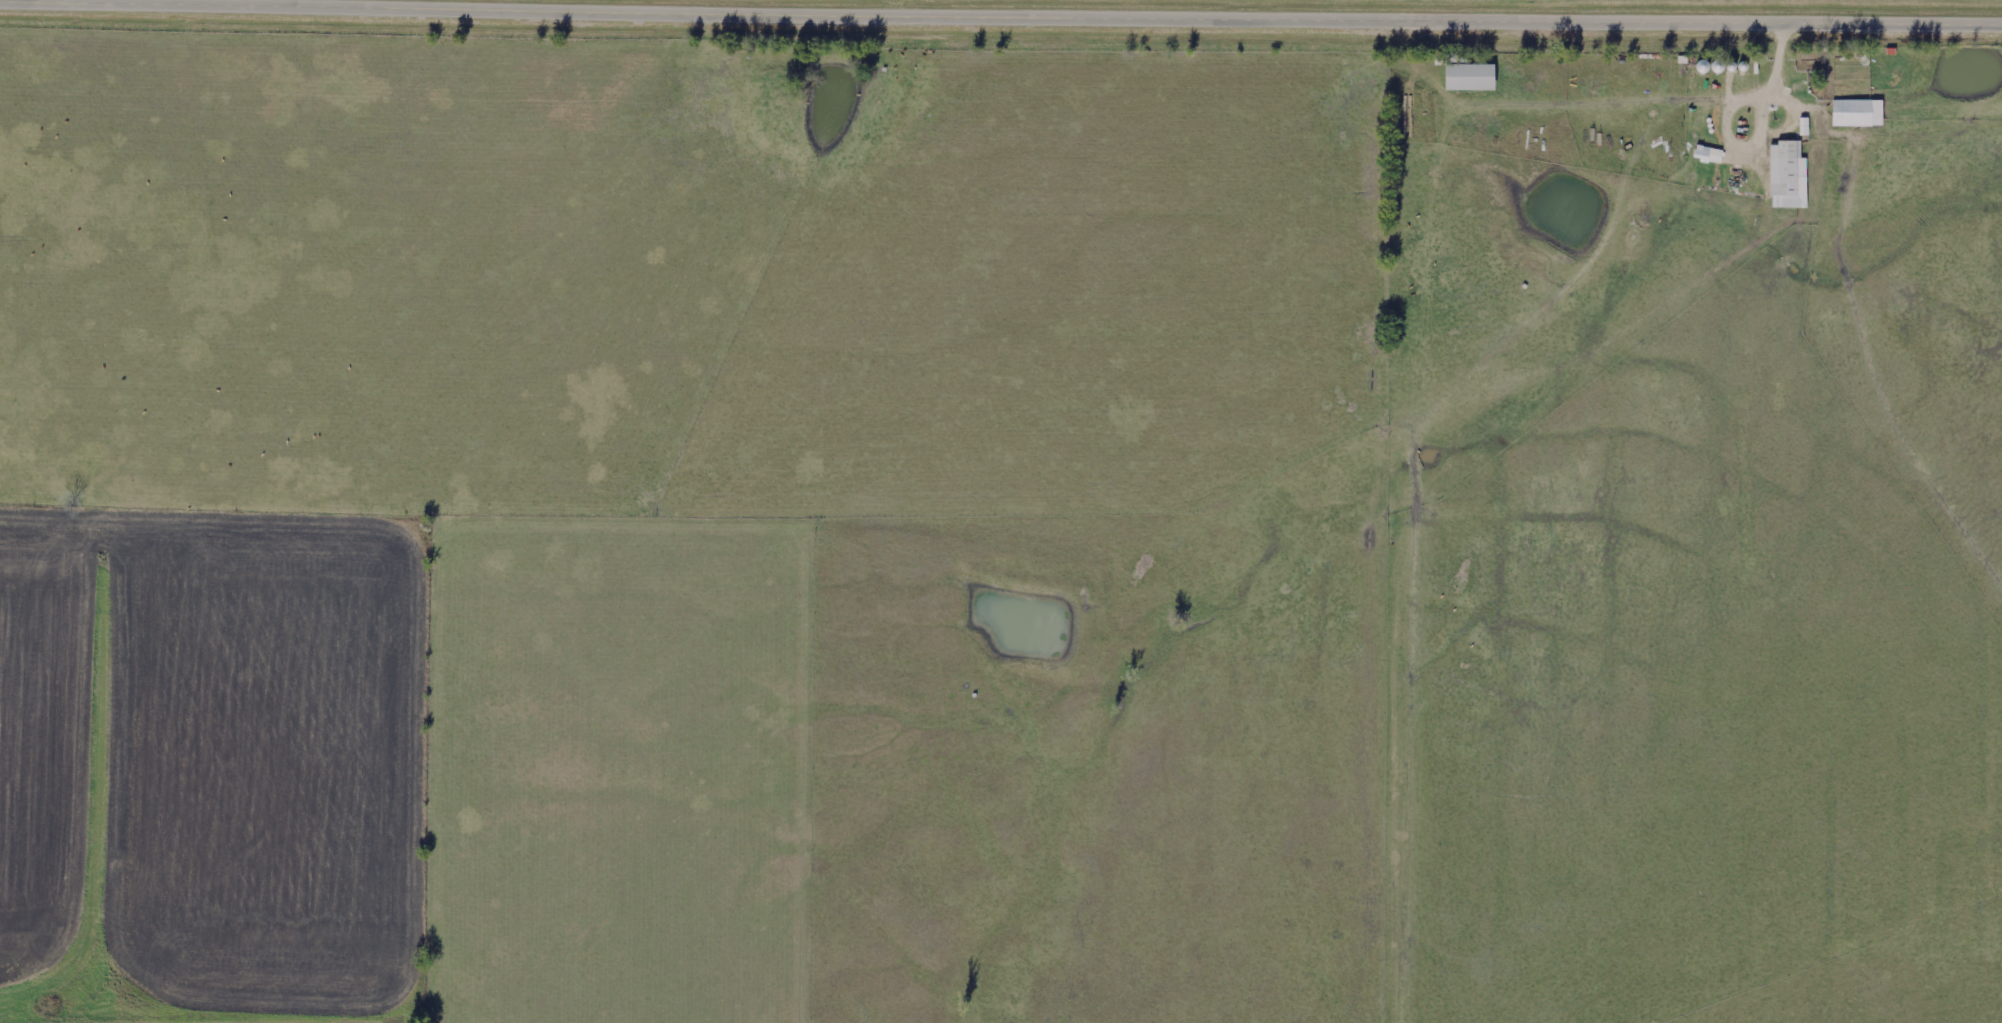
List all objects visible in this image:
road: (1183, 10)
building: (1470, 79)
building: (1858, 114)
building: (1709, 155)
building: (1788, 176)

